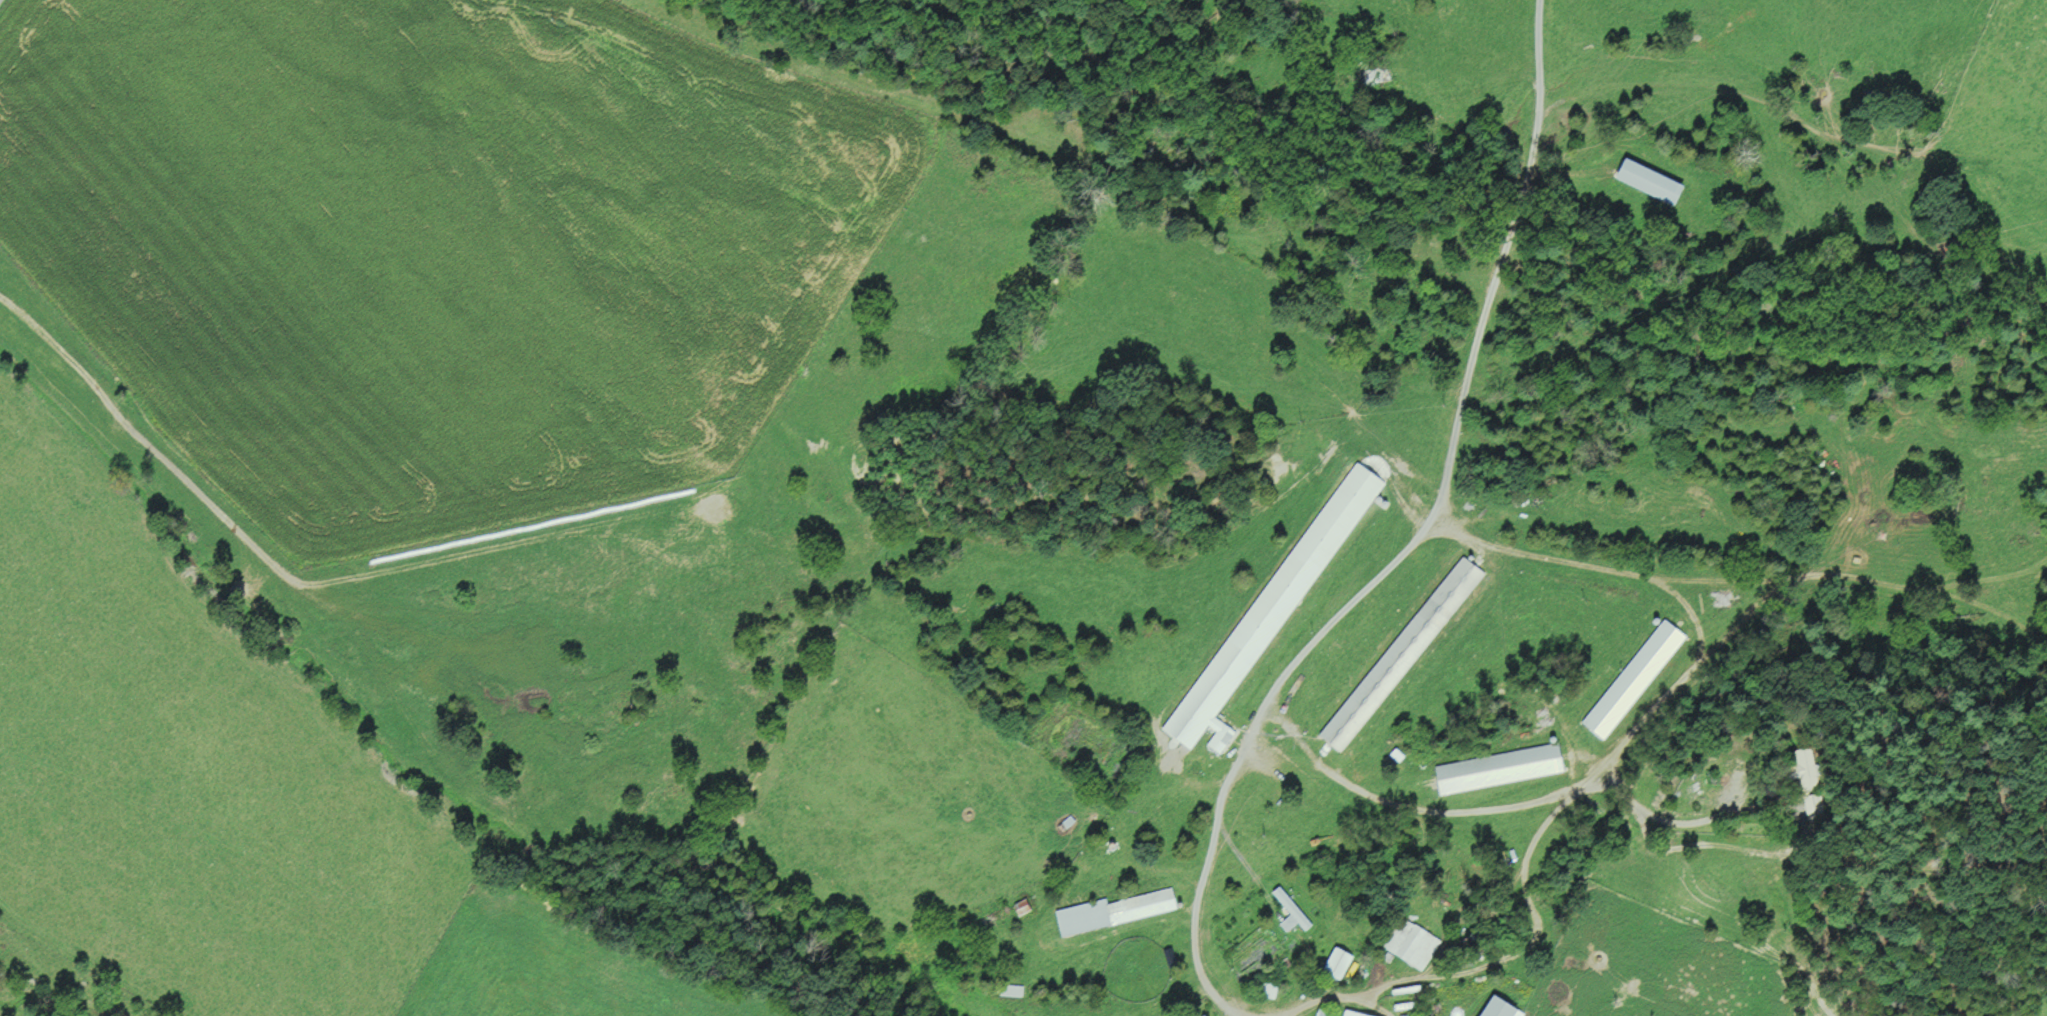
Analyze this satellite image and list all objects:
building: (1655, 181)
road: (1413, 537)
building: (1274, 606)
building: (1402, 653)
building: (1634, 678)
building: (1222, 738)
building: (1500, 767)
building: (1804, 769)
road: (1585, 776)
road: (1402, 807)
building: (1810, 807)
road: (1671, 822)
building: (1023, 906)
building: (1293, 908)
building: (1111, 910)
building: (1410, 942)
building: (1339, 960)
building: (1012, 989)
building: (1503, 1008)
road: (1283, 1012)
building: (1358, 1013)

